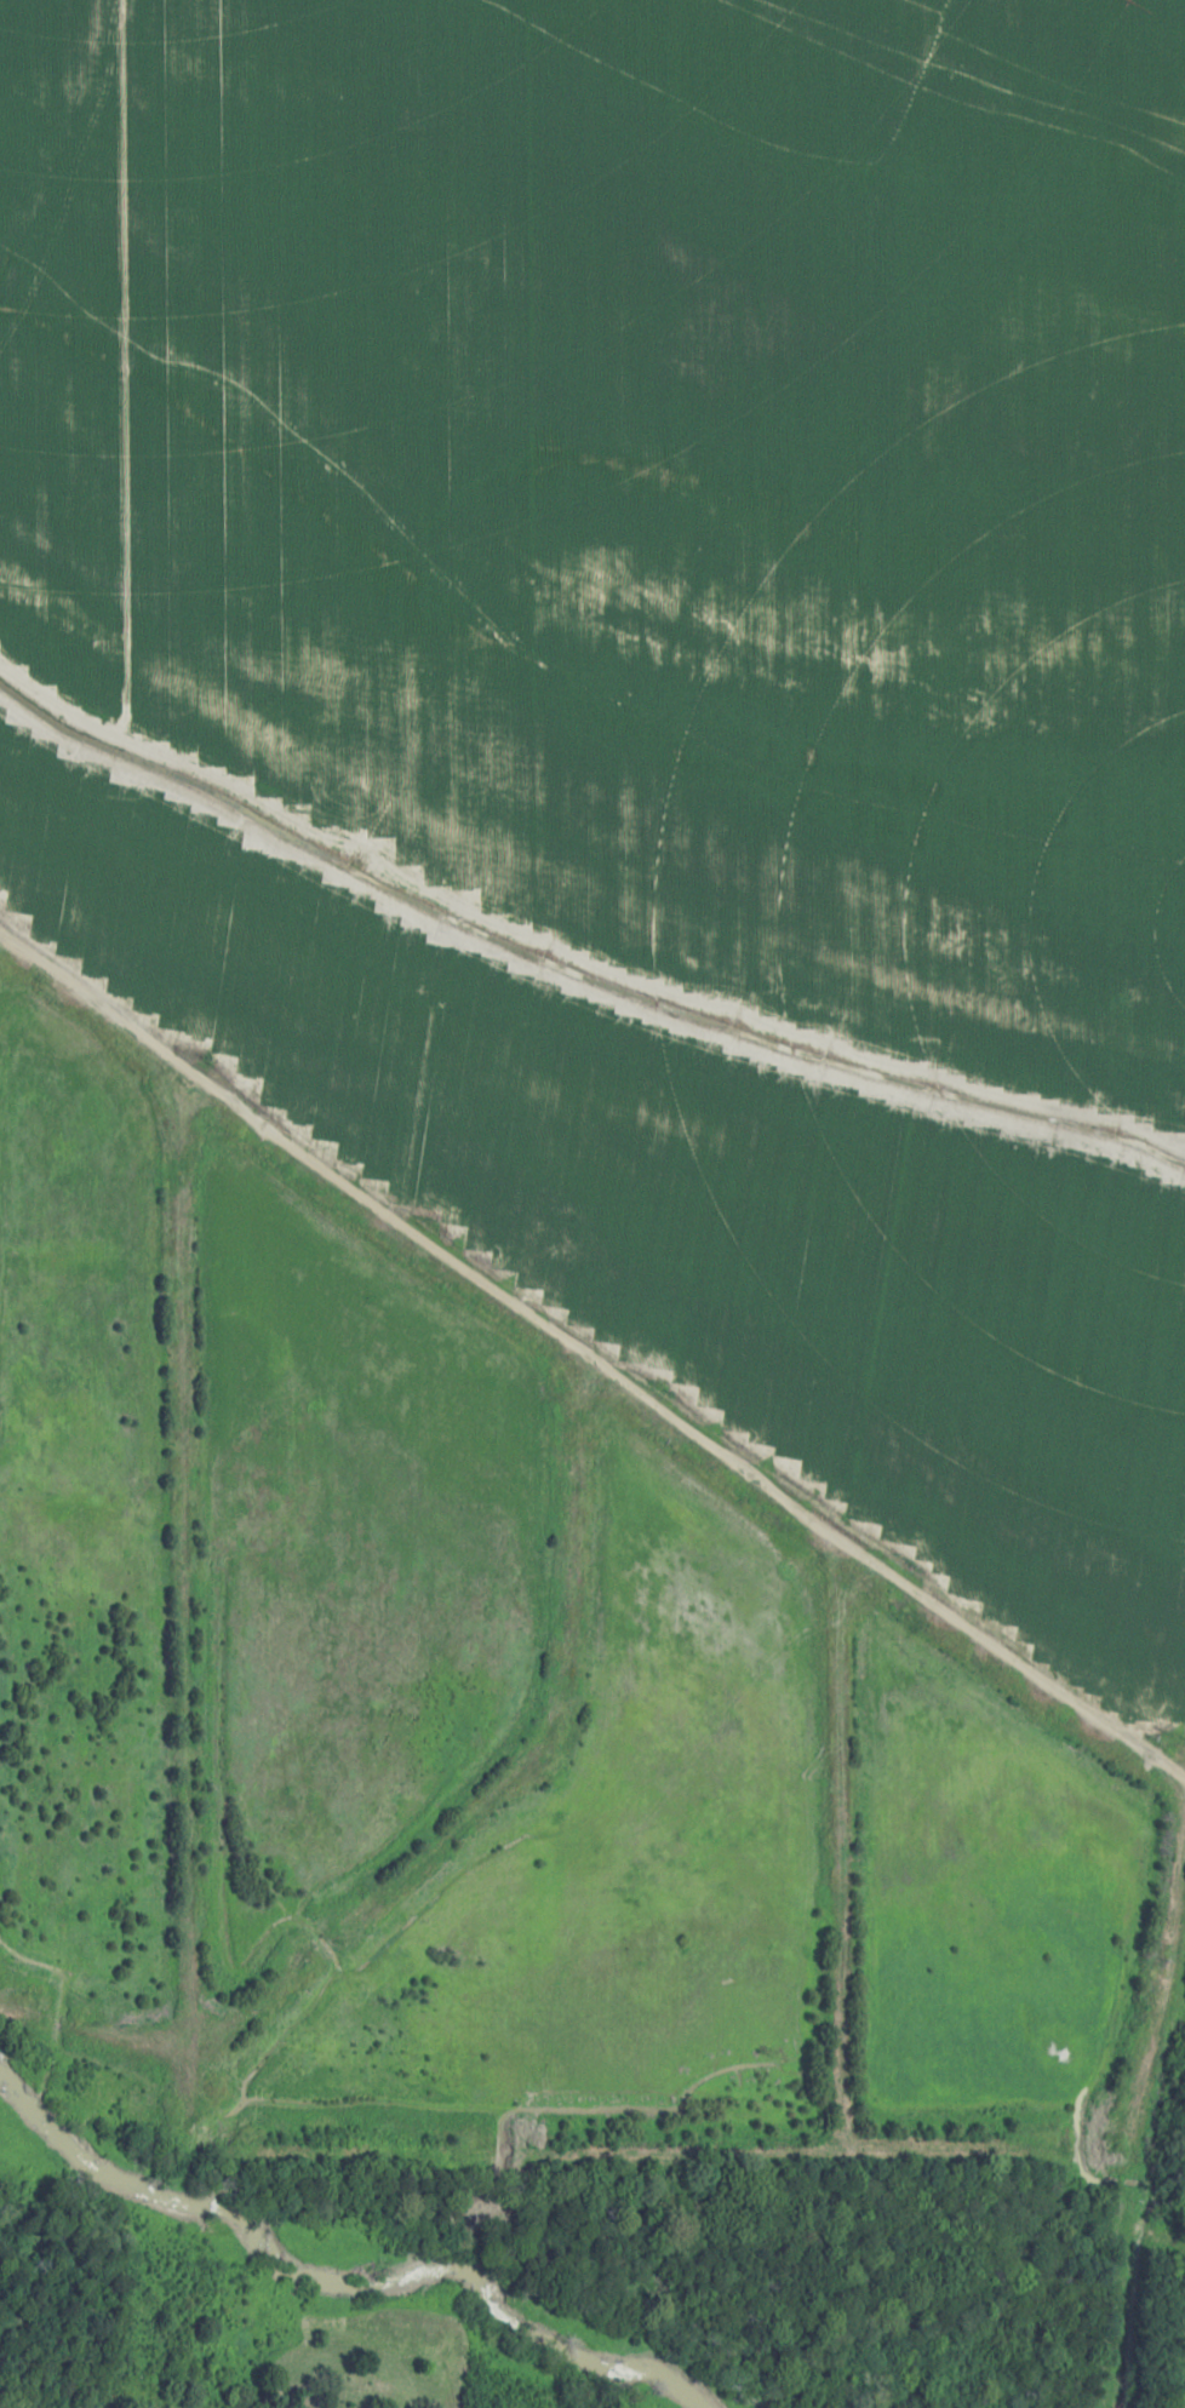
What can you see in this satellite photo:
road: (588, 1359)
road: (656, 2149)

